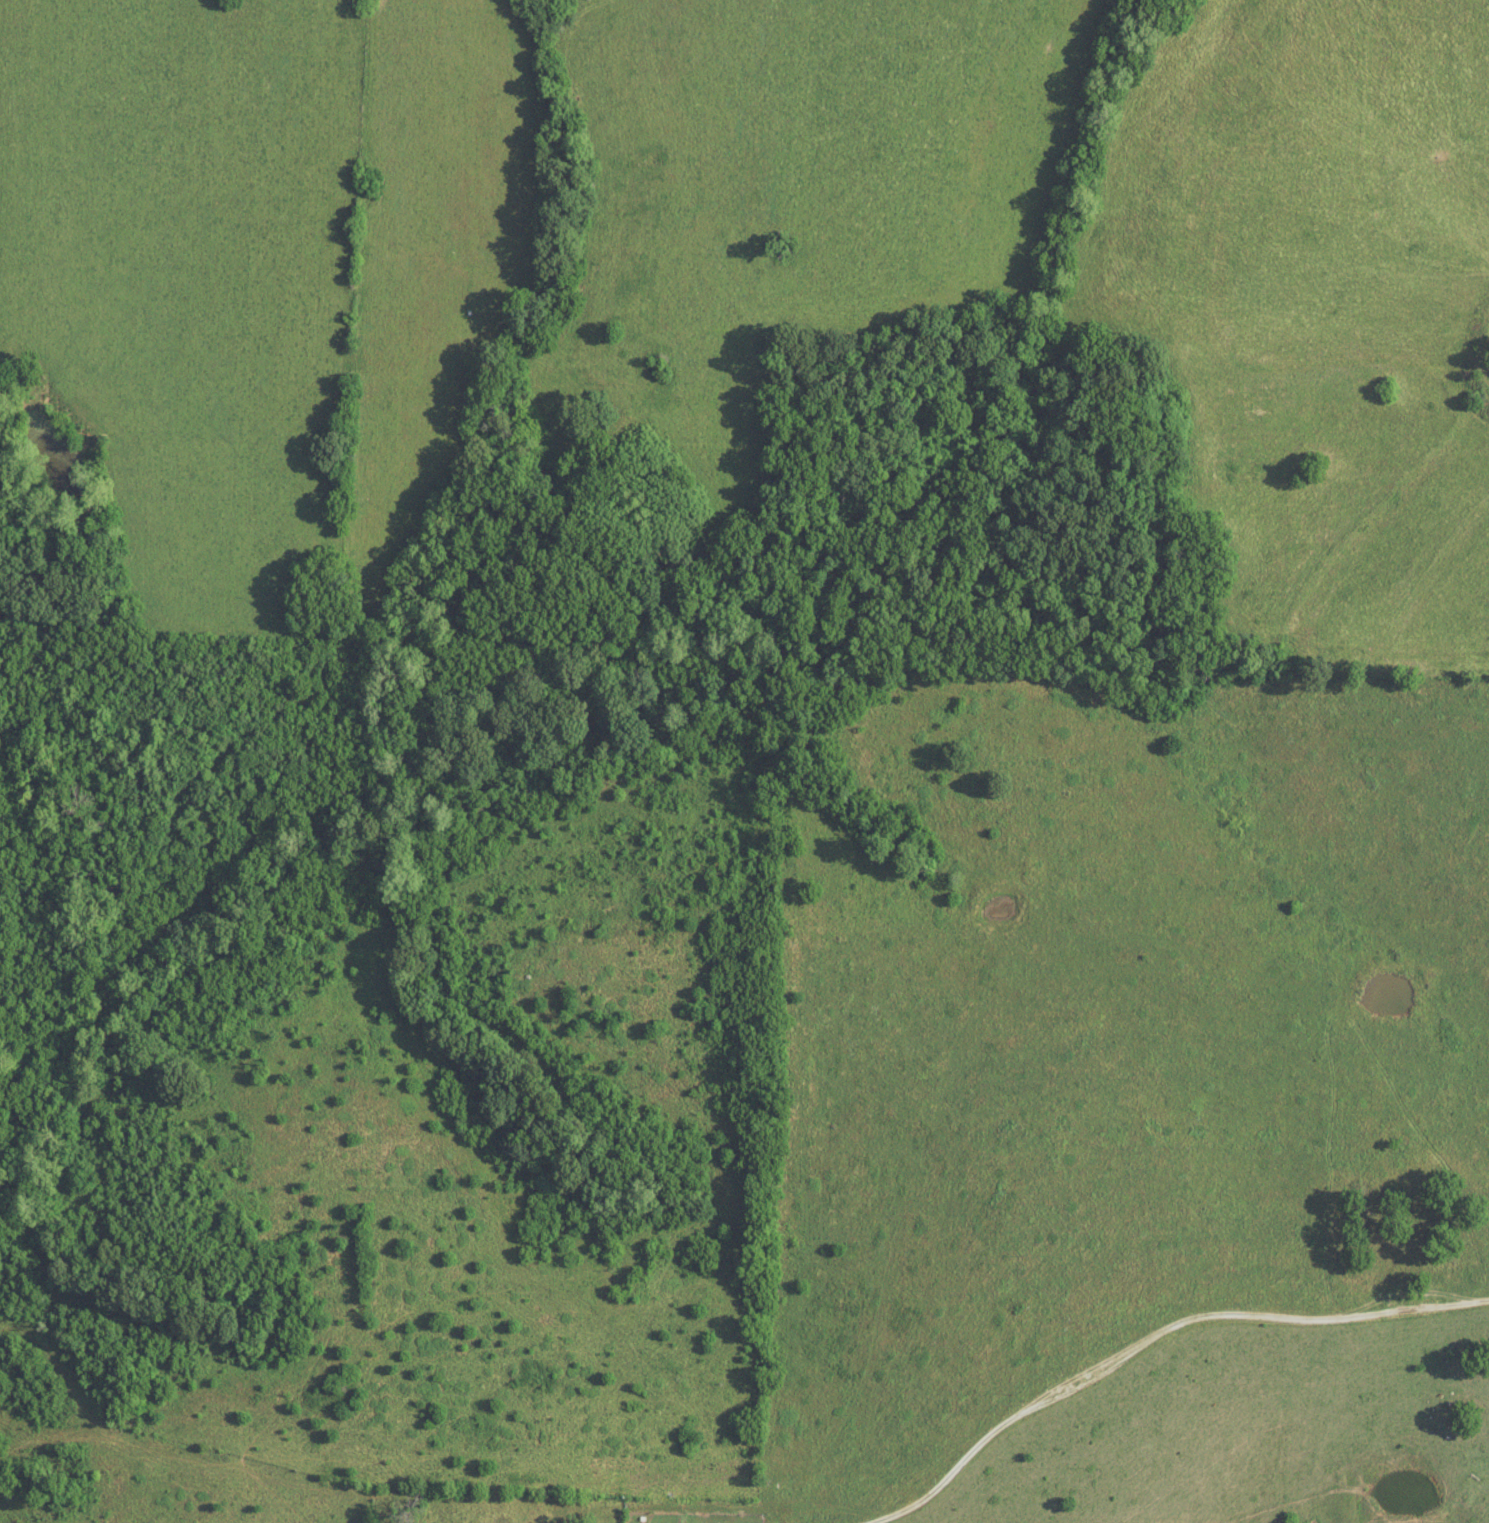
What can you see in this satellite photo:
road: (1162, 1343)

